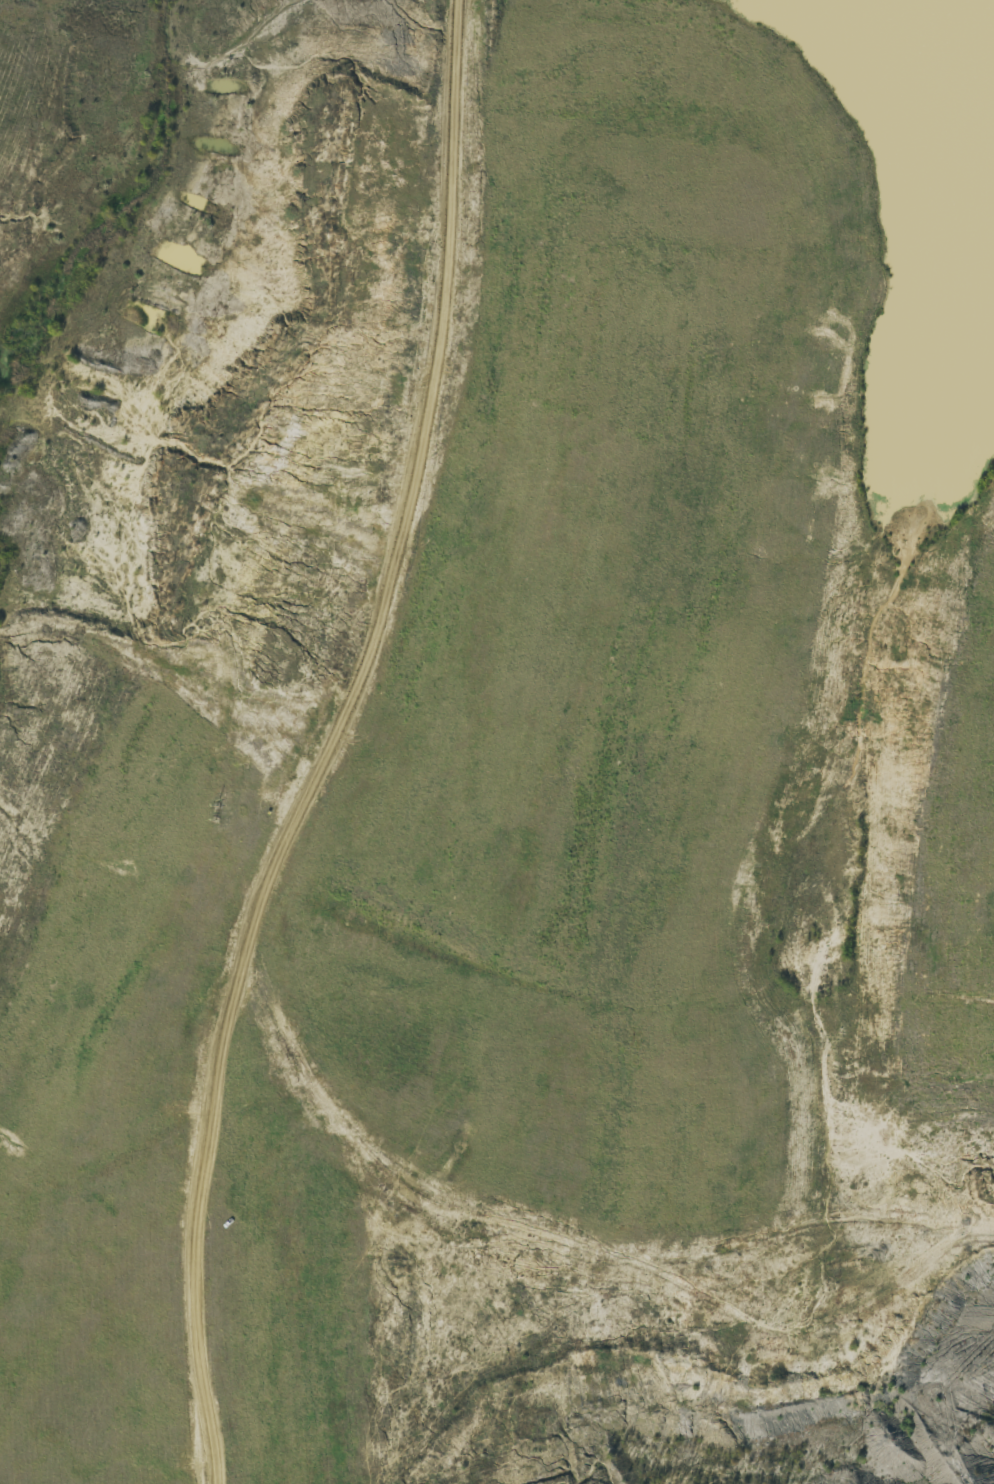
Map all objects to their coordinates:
quarry: (497, 742)

